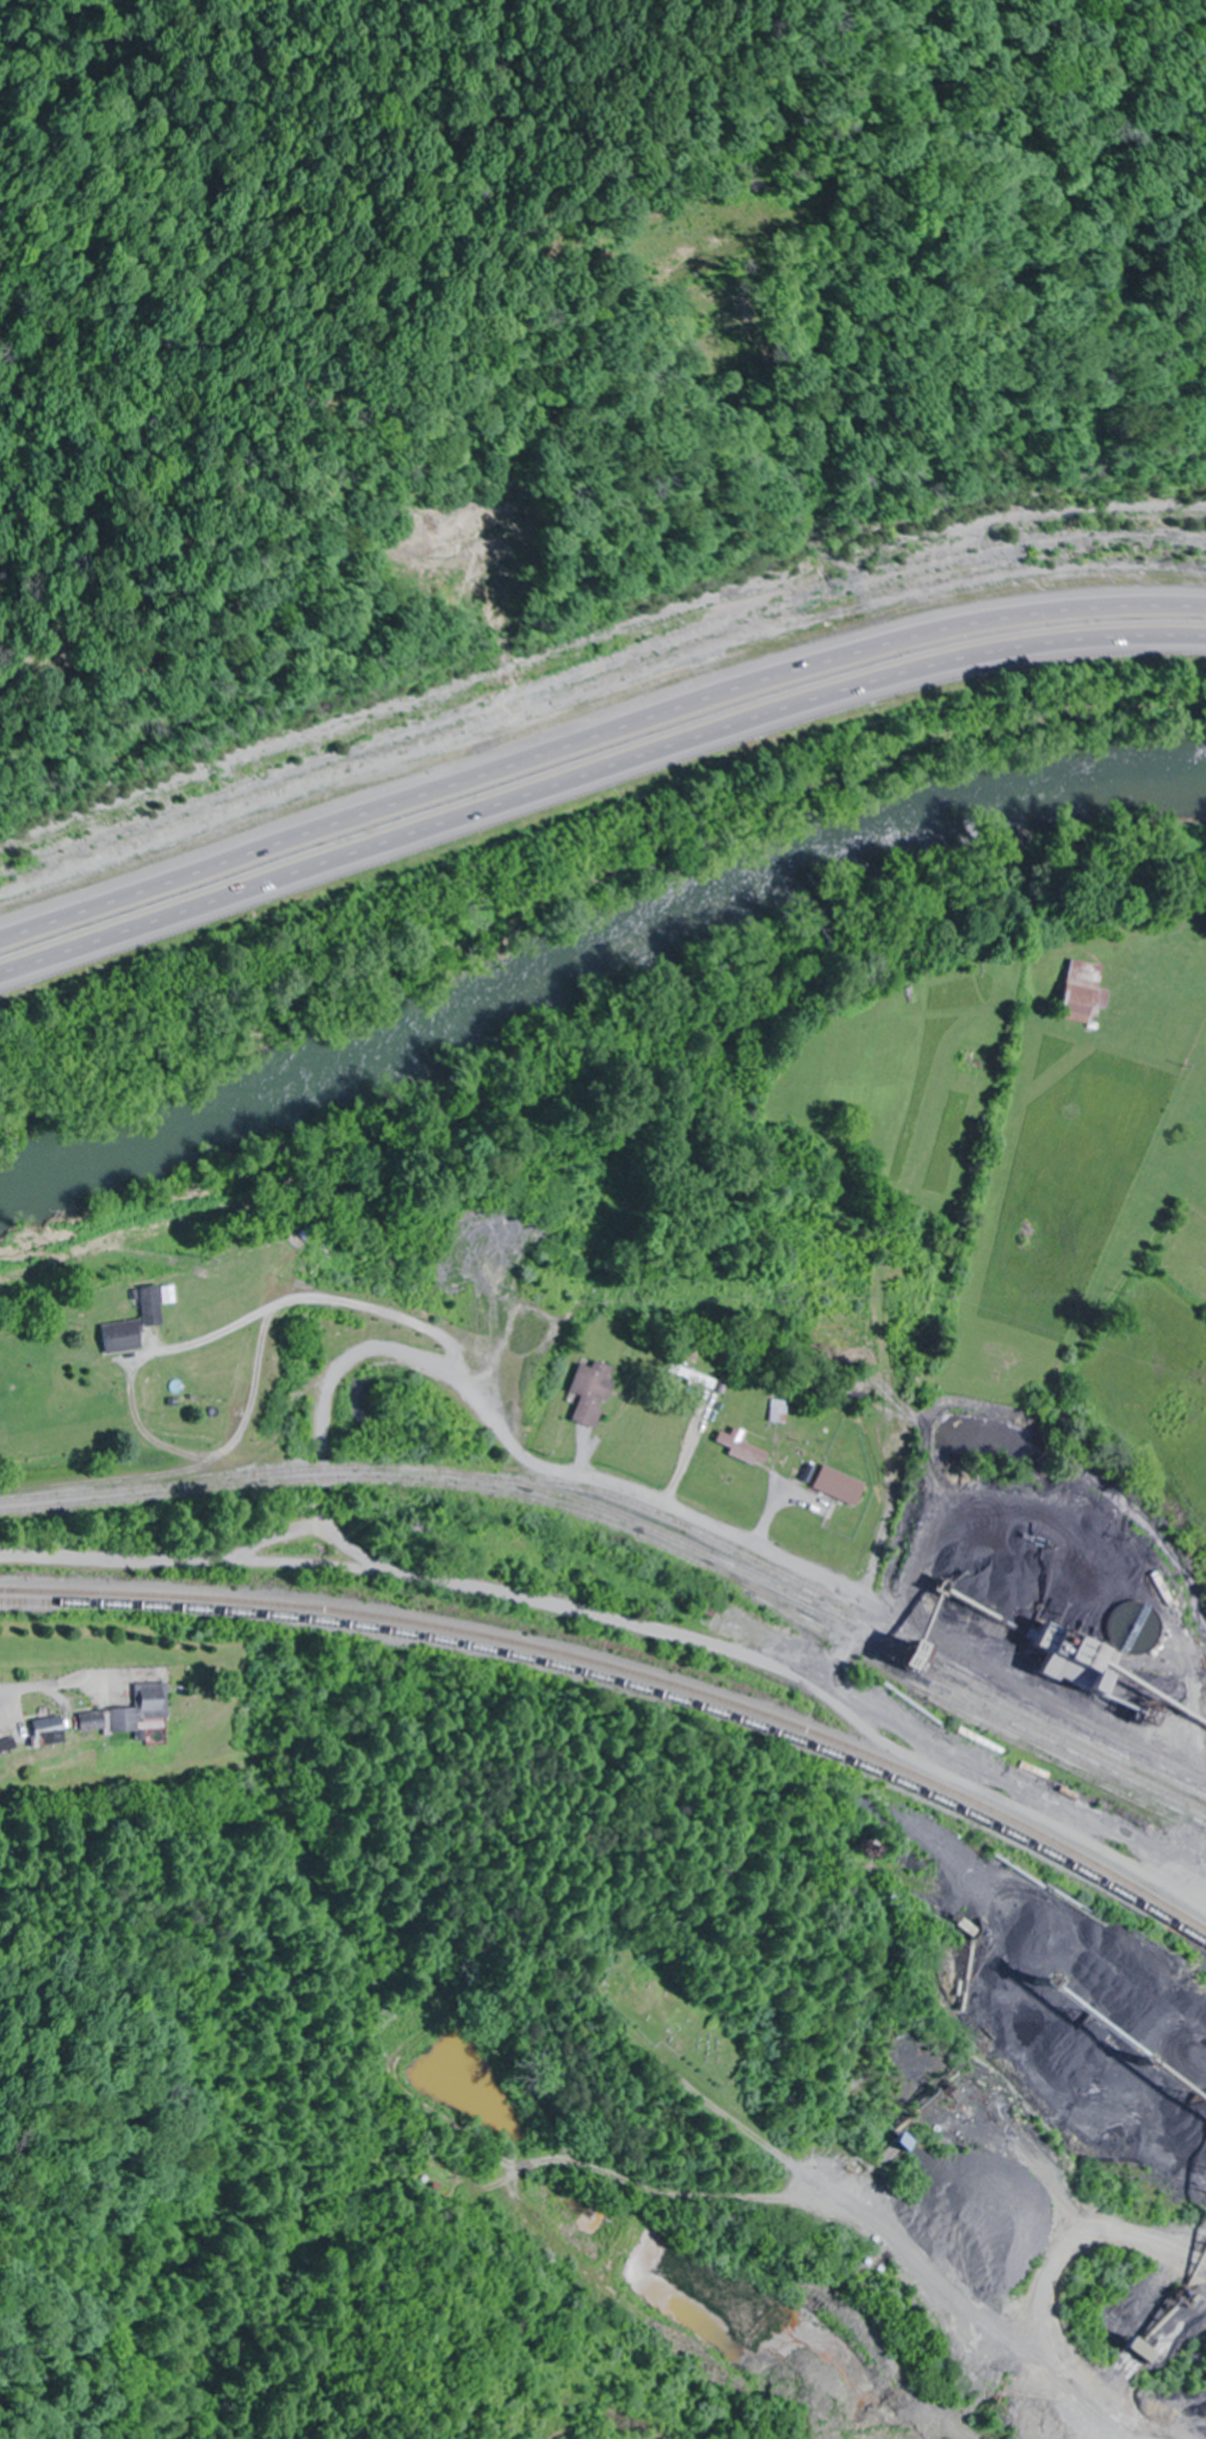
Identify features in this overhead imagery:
road: (595, 739)
road: (595, 778)
river: (600, 975)
building: (1081, 992)
building: (154, 1304)
road: (893, 1307)
building: (120, 1338)
building: (698, 1381)
building: (592, 1393)
building: (203, 1401)
building: (777, 1413)
building: (742, 1449)
road: (234, 1470)
building: (839, 1487)
road: (718, 1525)
road: (299, 1531)
railway: (621, 1563)
road: (632, 1624)
road: (12, 1692)
railway: (624, 1699)
building: (136, 1712)
building: (54, 1733)
road: (1063, 2332)
road: (1162, 2342)
road: (1130, 2414)

